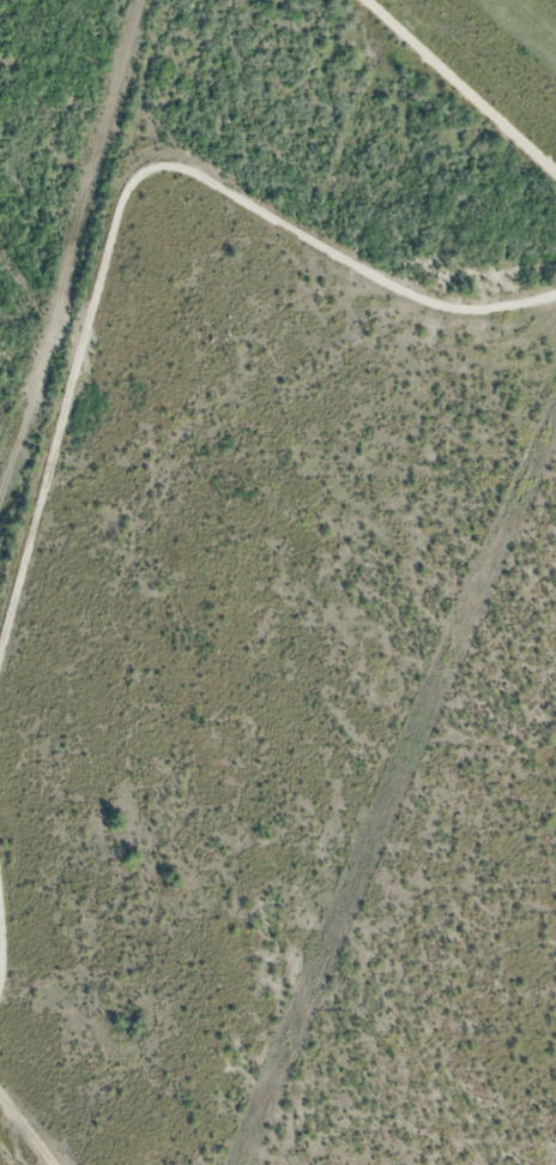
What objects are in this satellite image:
road: (125, 185)
road: (26, 1133)

